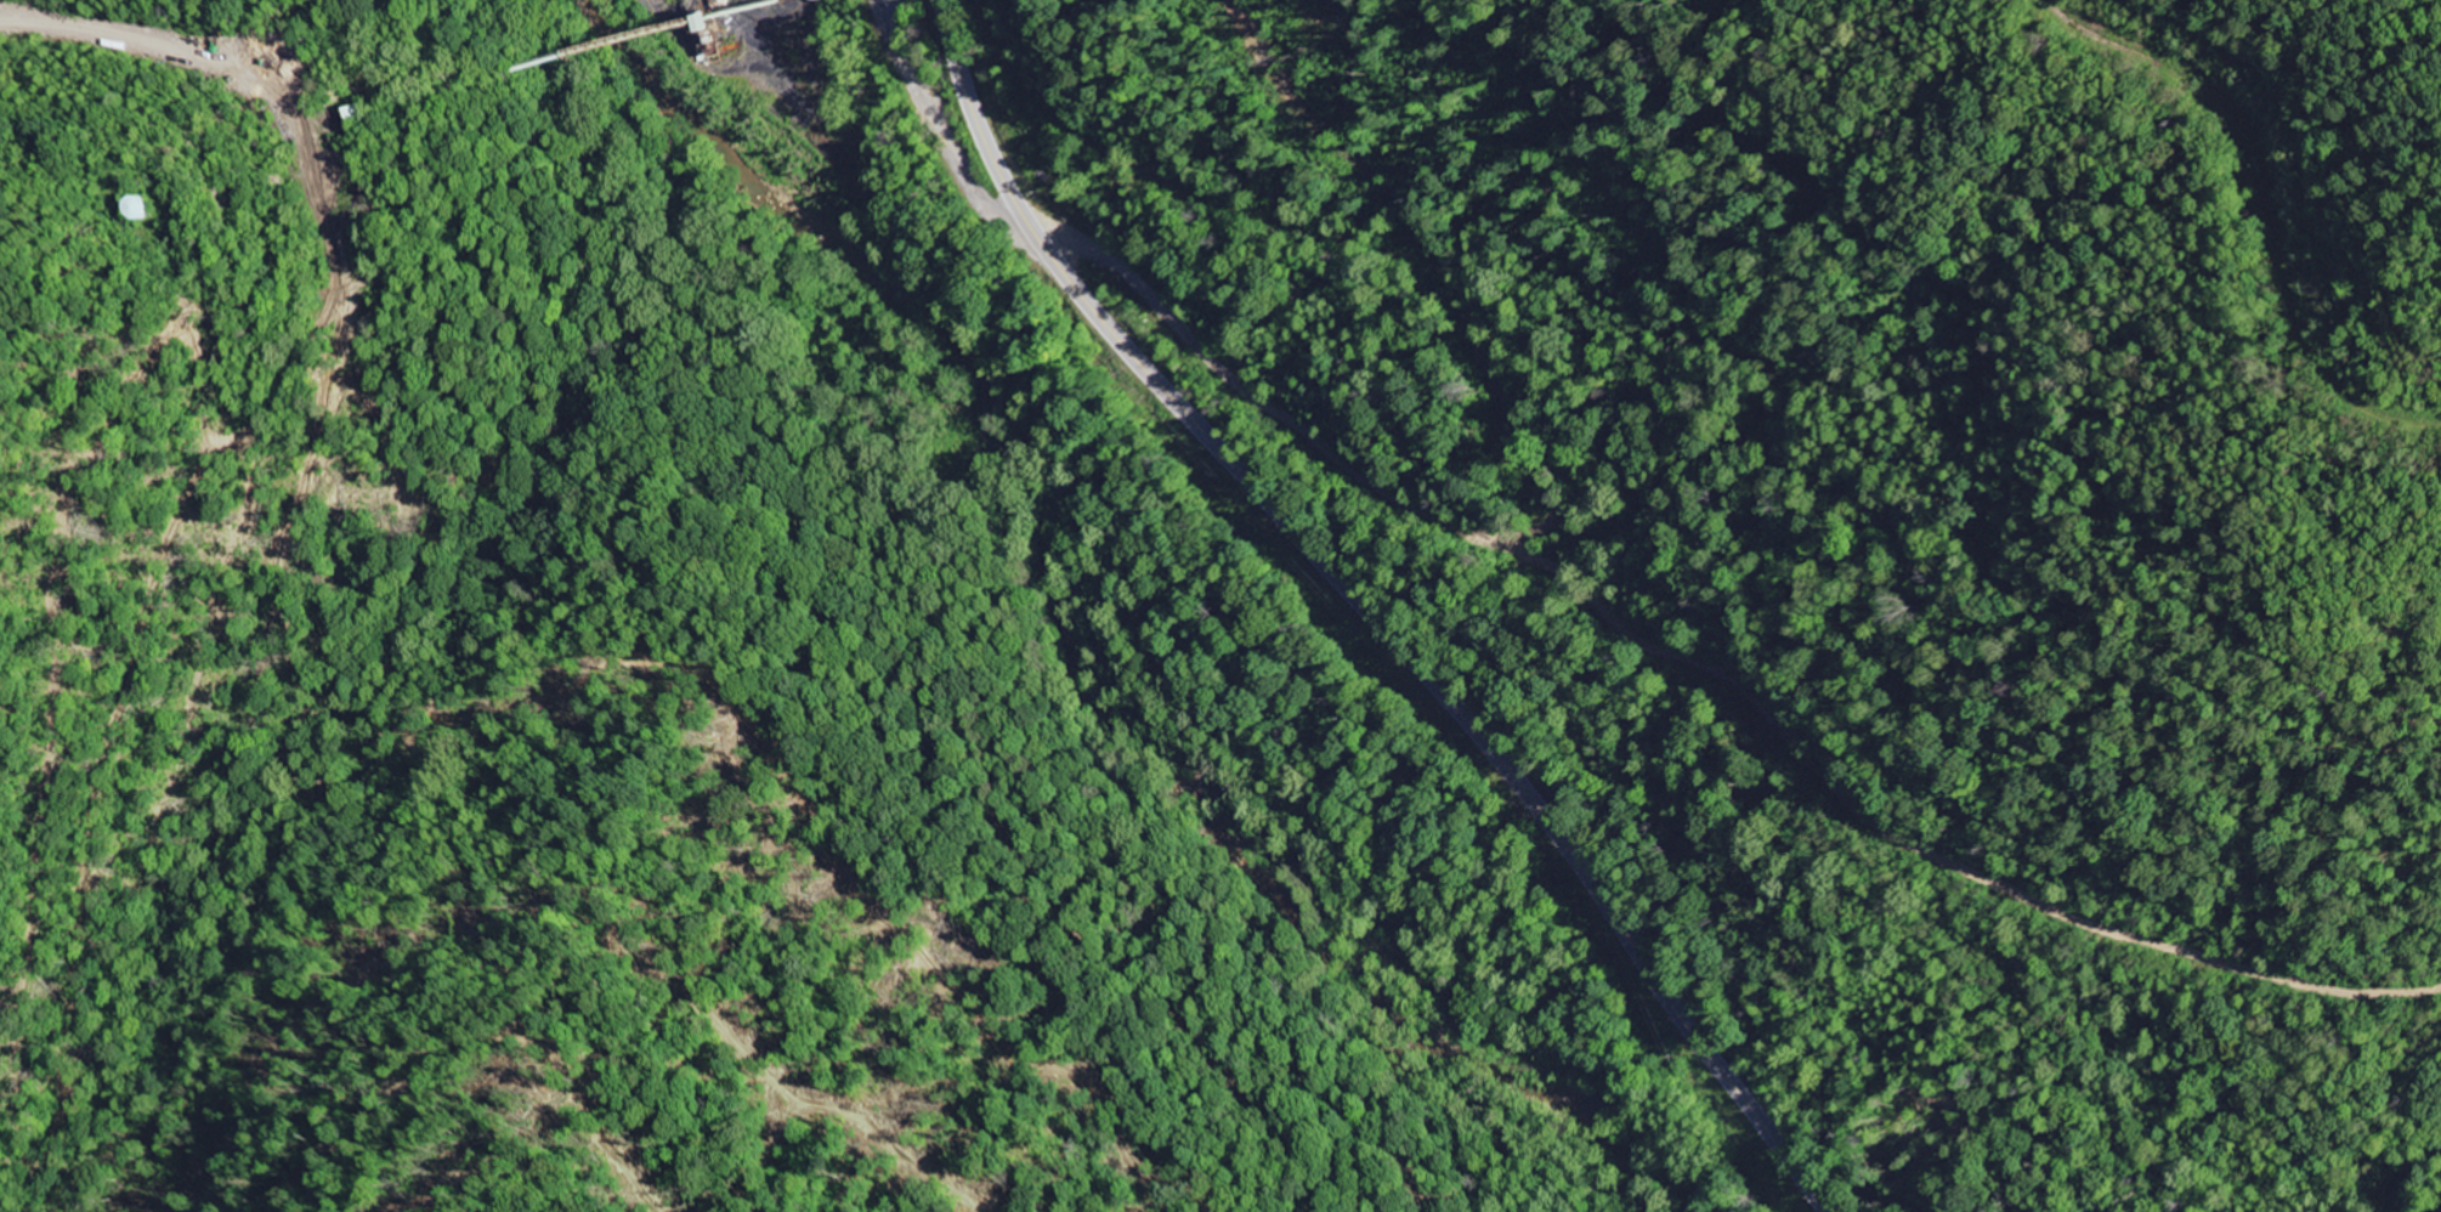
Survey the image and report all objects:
road: (919, 130)
building: (121, 208)
road: (1367, 612)

